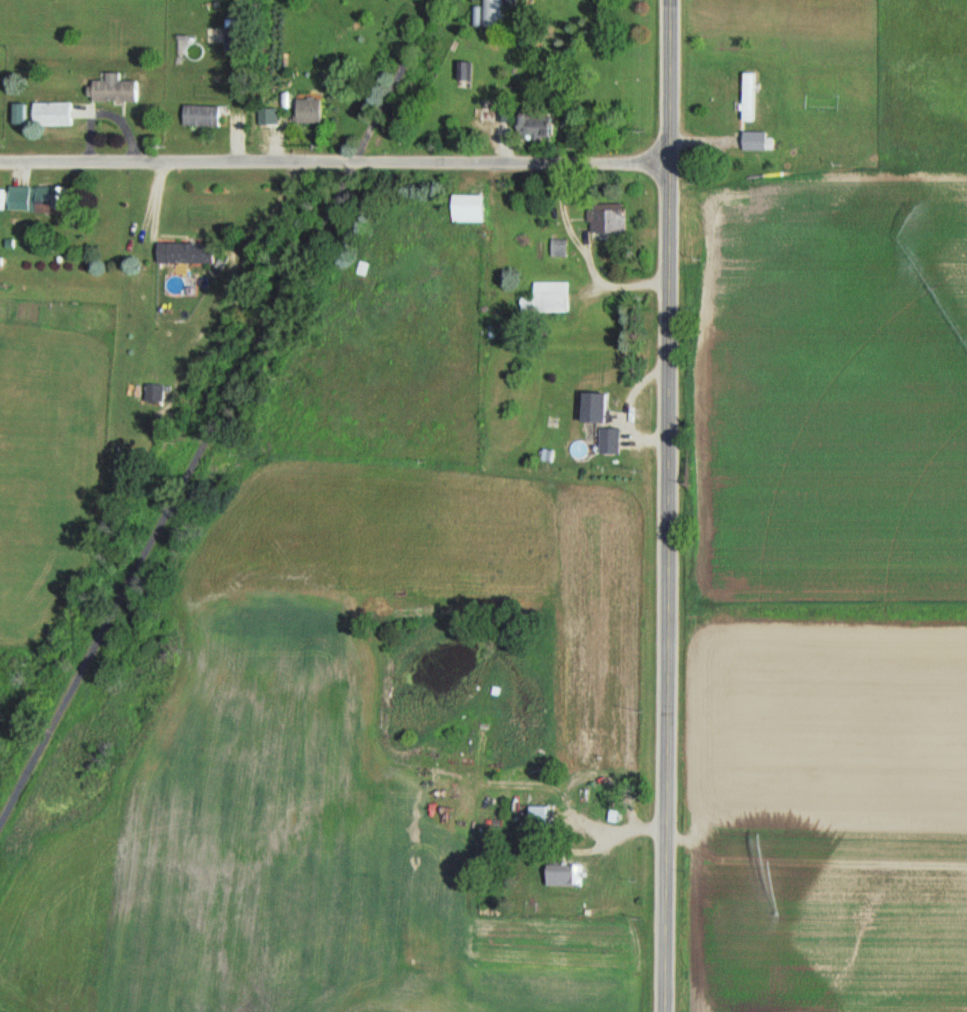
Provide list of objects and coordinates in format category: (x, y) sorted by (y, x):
building: (487, 14)
building: (232, 35)
building: (465, 71)
building: (110, 89)
building: (746, 98)
building: (306, 111)
building: (51, 114)
building: (199, 115)
building: (266, 116)
building: (534, 128)
building: (752, 142)
road: (334, 162)
building: (47, 201)
building: (464, 209)
building: (606, 218)
building: (184, 253)
building: (545, 299)
road: (668, 321)
building: (154, 393)
road: (214, 401)
building: (589, 406)
building: (608, 441)
building: (536, 816)
road: (664, 827)
building: (562, 875)

